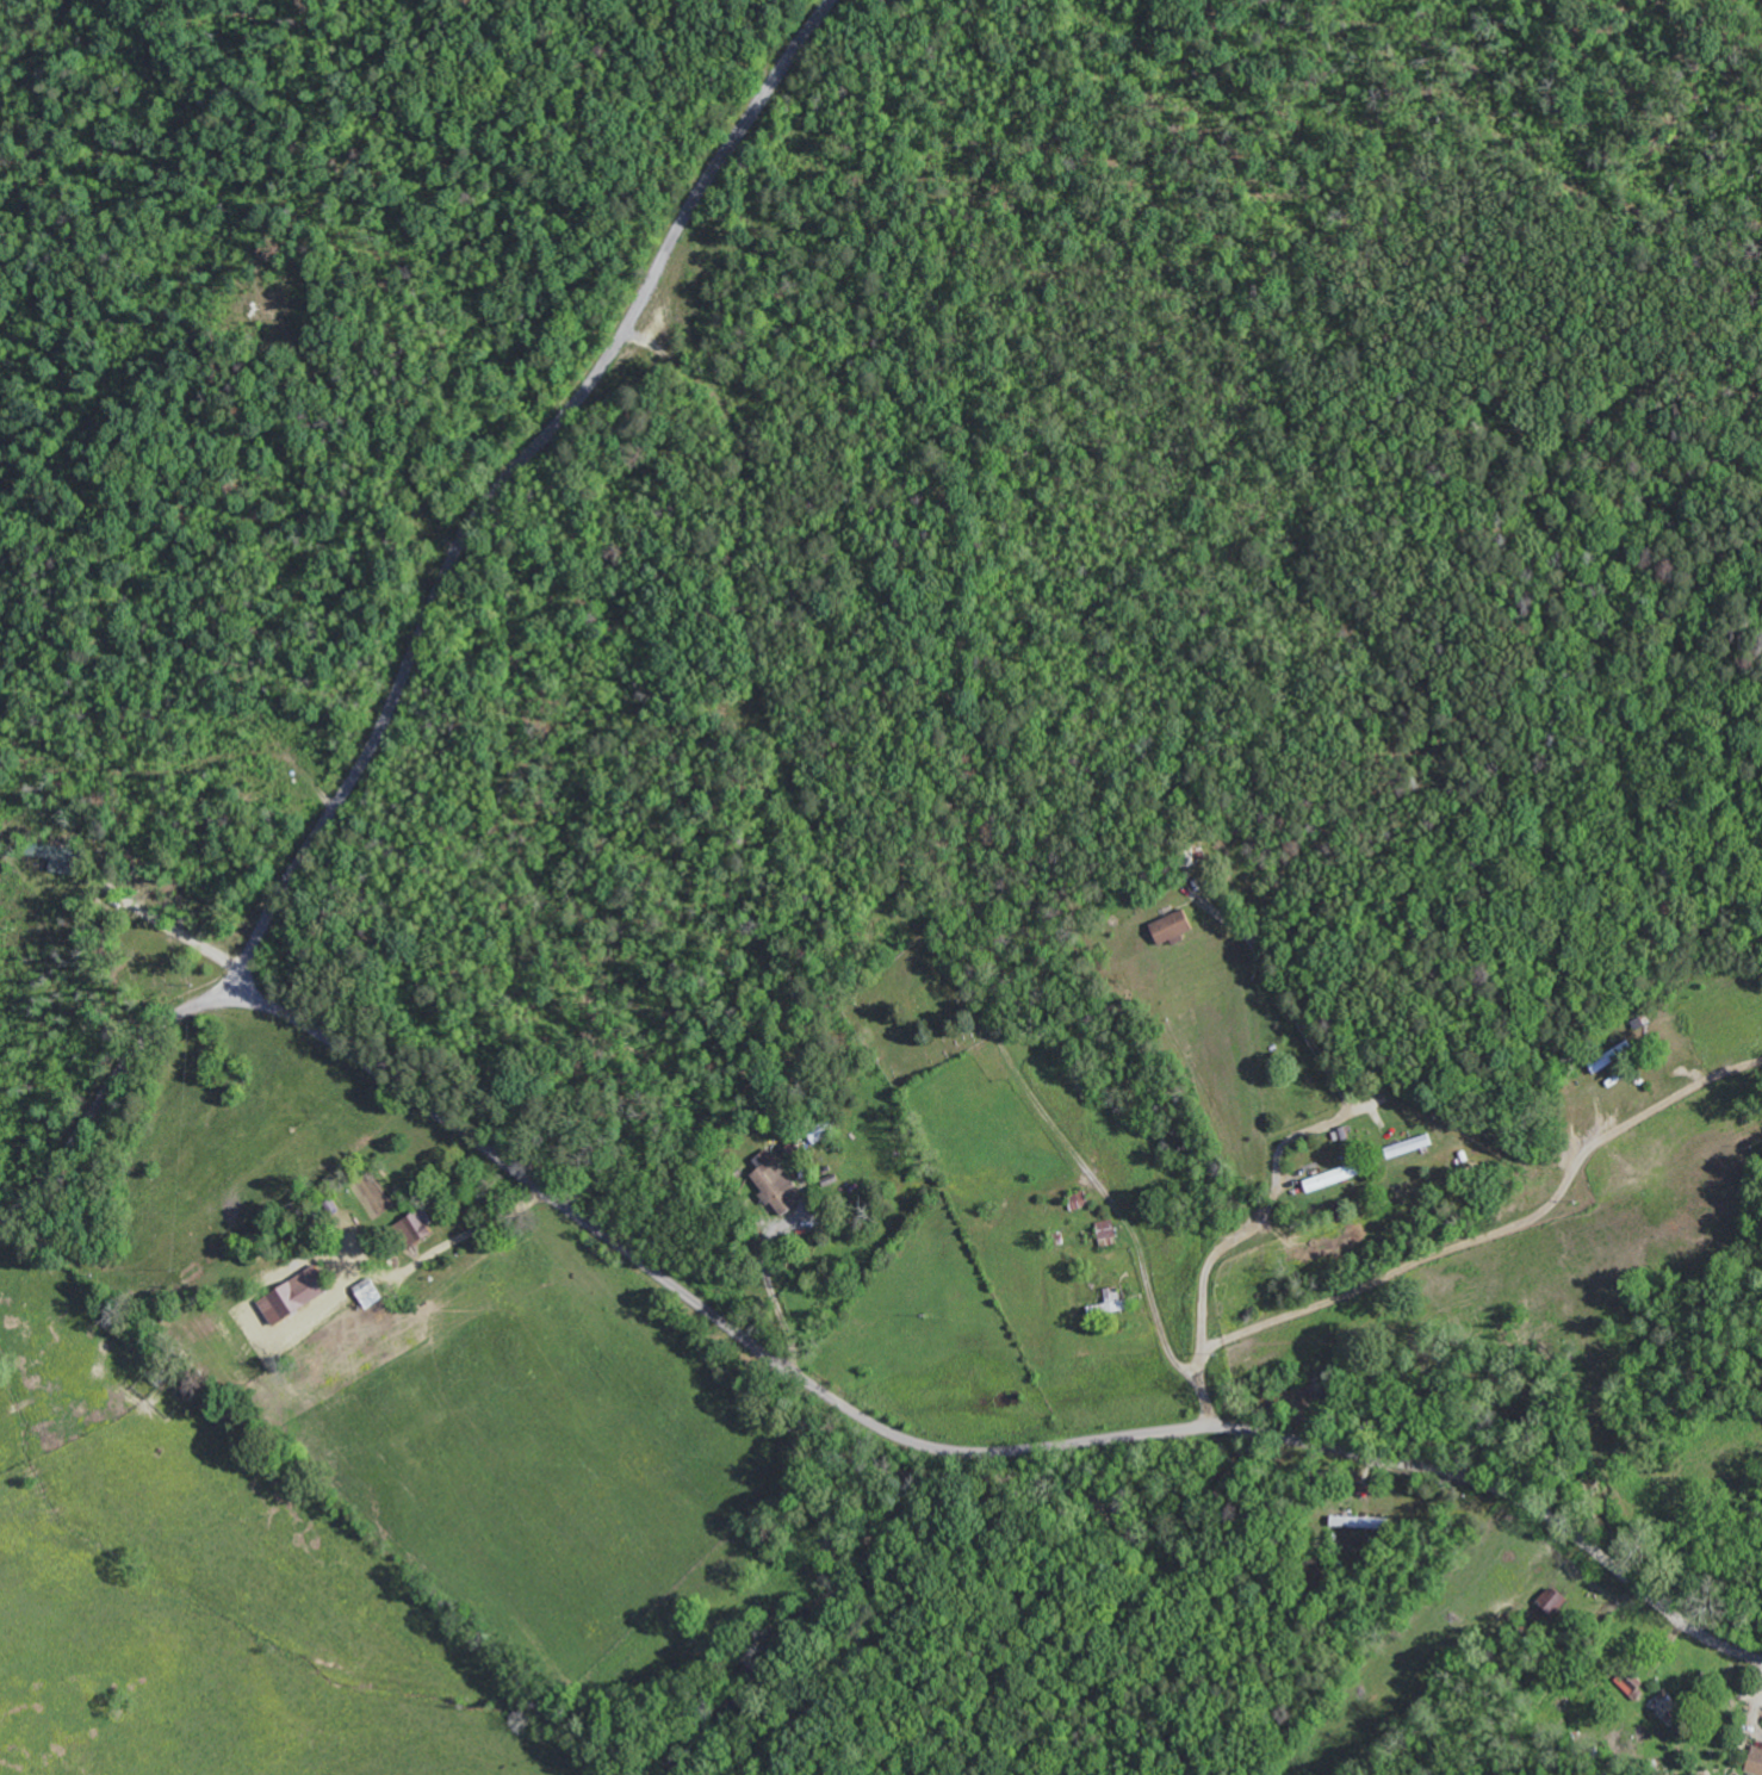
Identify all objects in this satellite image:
road: (502, 485)
building: (62, 857)
building: (1177, 926)
park: (912, 1012)
building: (1338, 1177)
building: (781, 1186)
building: (421, 1228)
building: (1110, 1233)
building: (1113, 1304)
road: (1276, 1323)
road: (809, 1385)
road: (1553, 1502)
building: (1360, 1522)
building: (1556, 1600)
building: (1755, 1761)

